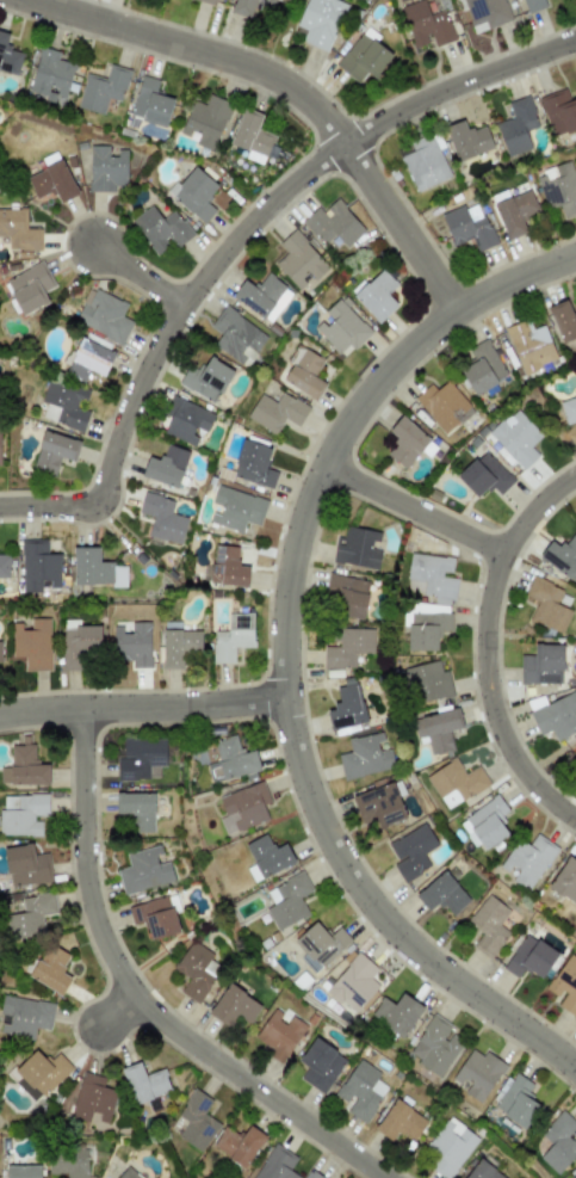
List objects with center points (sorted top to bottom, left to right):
building: (208, 1)
building: (532, 5)
building: (248, 6)
building: (485, 13)
building: (320, 21)
building: (426, 25)
building: (8, 56)
building: (364, 57)
building: (50, 75)
road: (275, 86)
building: (101, 88)
building: (150, 103)
building: (558, 111)
building: (205, 122)
building: (516, 127)
building: (253, 137)
building: (467, 140)
building: (425, 162)
building: (106, 168)
building: (51, 179)
building: (558, 189)
building: (193, 193)
building: (514, 211)
building: (333, 224)
building: (467, 226)
building: (160, 228)
building: (18, 230)
road: (235, 238)
building: (298, 260)
road: (135, 276)
building: (29, 288)
building: (261, 296)
building: (377, 296)
building: (103, 314)
building: (563, 321)
building: (341, 327)
building: (236, 337)
building: (529, 347)
building: (87, 360)
building: (482, 368)
building: (304, 372)
building: (206, 380)
building: (442, 405)
building: (64, 406)
building: (569, 409)
building: (275, 412)
building: (185, 420)
building: (516, 437)
building: (405, 442)
building: (54, 451)
building: (253, 464)
building: (166, 467)
building: (483, 475)
building: (235, 508)
road: (417, 511)
building: (161, 518)
building: (357, 548)
building: (560, 556)
building: (4, 565)
building: (38, 566)
building: (228, 567)
building: (94, 569)
building: (431, 576)
building: (348, 597)
building: (546, 605)
building: (233, 637)
building: (79, 643)
building: (131, 643)
building: (32, 644)
building: (179, 646)
building: (346, 647)
road: (491, 648)
road: (285, 653)
building: (0, 654)
building: (543, 665)
building: (428, 683)
road: (142, 707)
building: (346, 707)
building: (553, 715)
building: (436, 729)
building: (365, 755)
building: (140, 757)
building: (230, 760)
building: (26, 766)
building: (456, 782)
building: (383, 803)
building: (244, 806)
building: (136, 809)
building: (23, 814)
building: (485, 824)
building: (411, 851)
building: (266, 857)
building: (527, 861)
building: (26, 866)
building: (144, 870)
building: (565, 880)
building: (442, 894)
building: (286, 901)
building: (30, 915)
building: (154, 917)
building: (488, 925)
building: (529, 957)
building: (50, 969)
building: (197, 970)
building: (353, 981)
building: (564, 985)
road: (140, 998)
building: (234, 1006)
road: (118, 1009)
building: (397, 1013)
building: (25, 1016)
building: (279, 1034)
building: (434, 1046)
building: (320, 1065)
building: (39, 1074)
building: (477, 1074)
building: (144, 1083)
building: (360, 1090)
building: (93, 1098)
building: (515, 1099)
building: (196, 1121)
building: (400, 1122)
building: (558, 1142)
building: (237, 1145)
building: (450, 1147)
building: (67, 1164)
building: (275, 1164)
building: (23, 1171)
building: (482, 1171)
building: (128, 1173)
building: (571, 1174)
building: (310, 1176)

